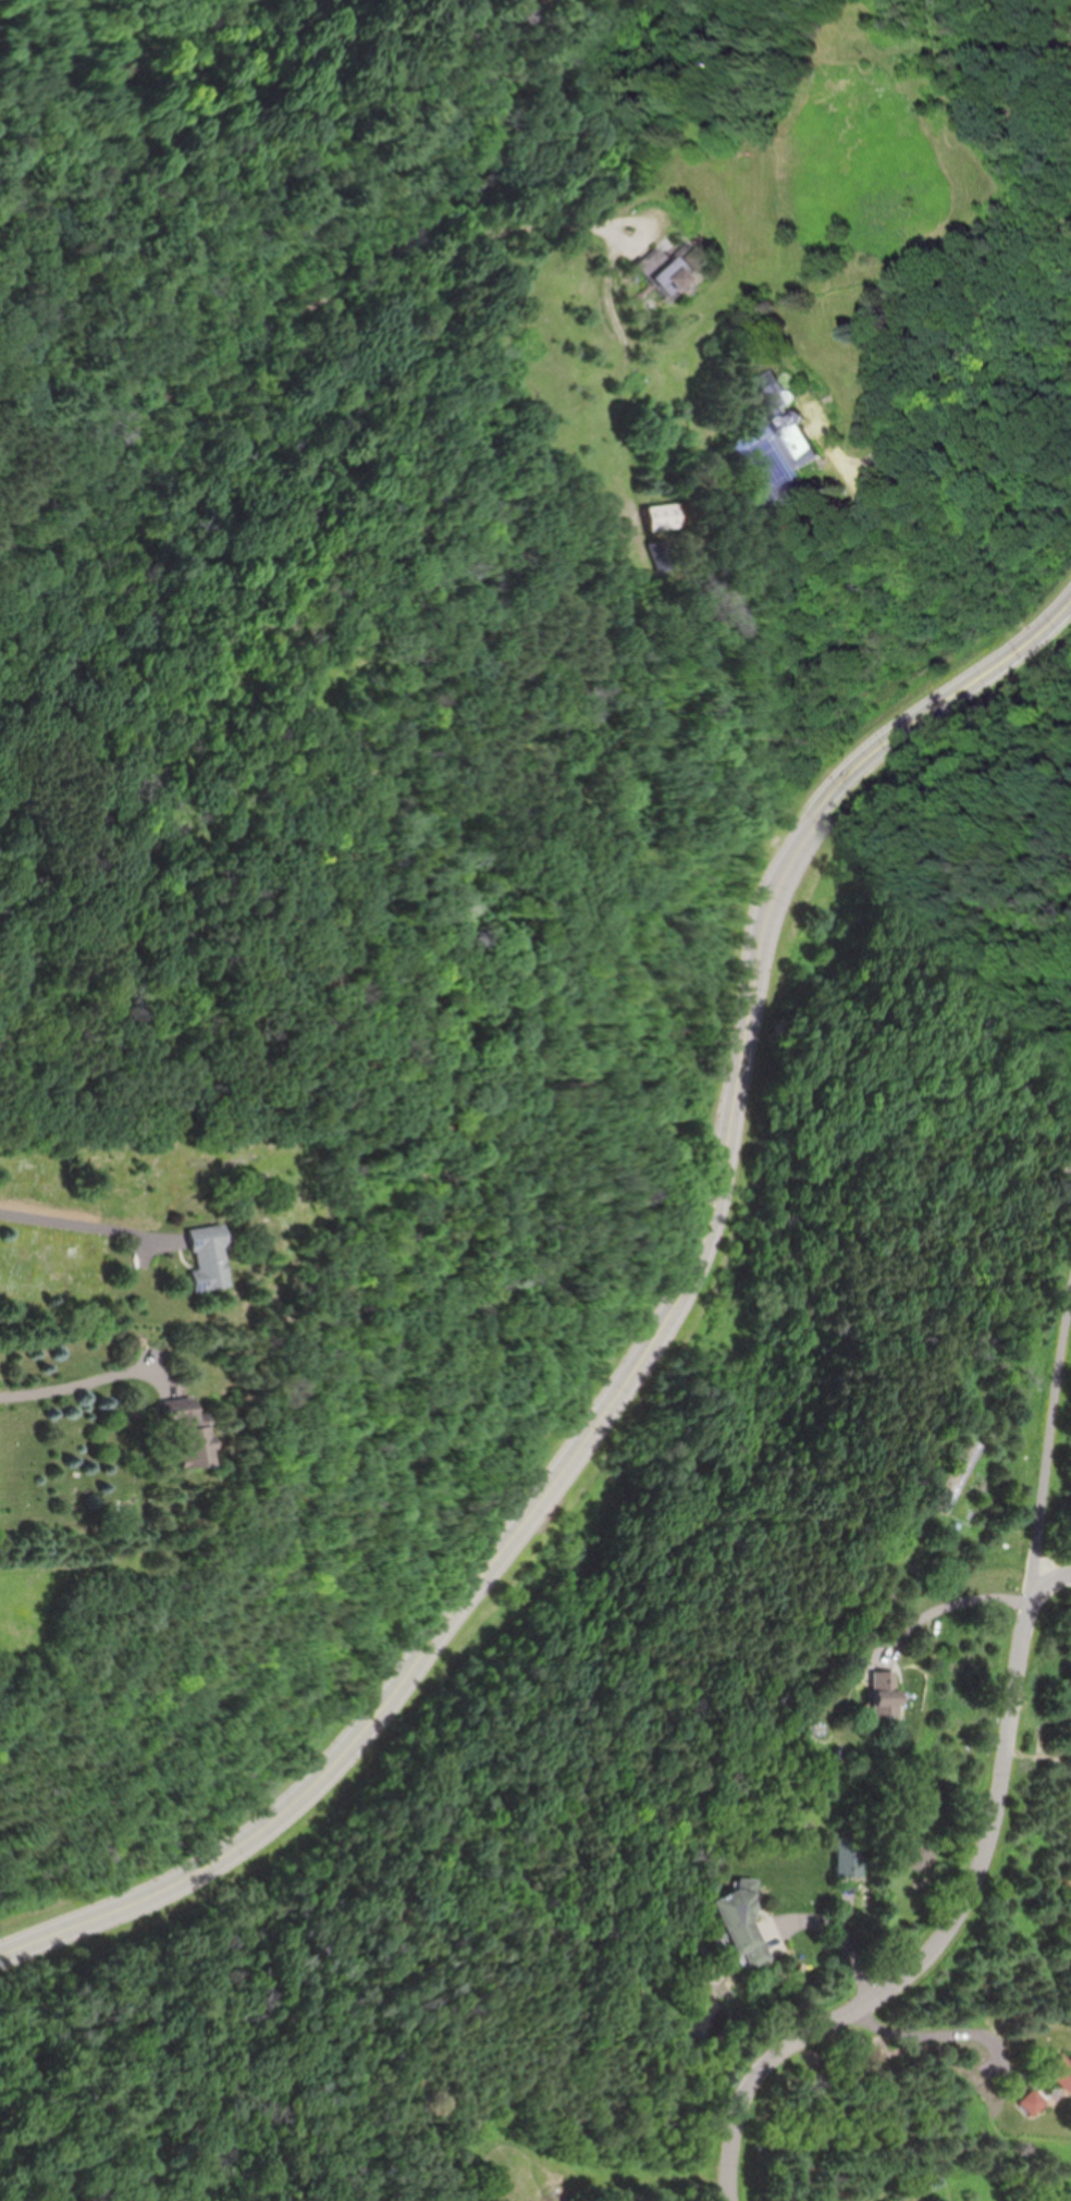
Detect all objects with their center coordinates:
building: (667, 266)
road: (965, 335)
building: (788, 420)
building: (657, 517)
road: (86, 1240)
building: (208, 1257)
road: (647, 1357)
road: (76, 1394)
building: (186, 1439)
road: (1051, 1578)
road: (943, 1604)
building: (877, 1697)
road: (995, 1804)
building: (846, 1856)
building: (736, 1922)
road: (840, 1930)
road: (943, 2033)
building: (1060, 2071)
building: (1029, 2103)

